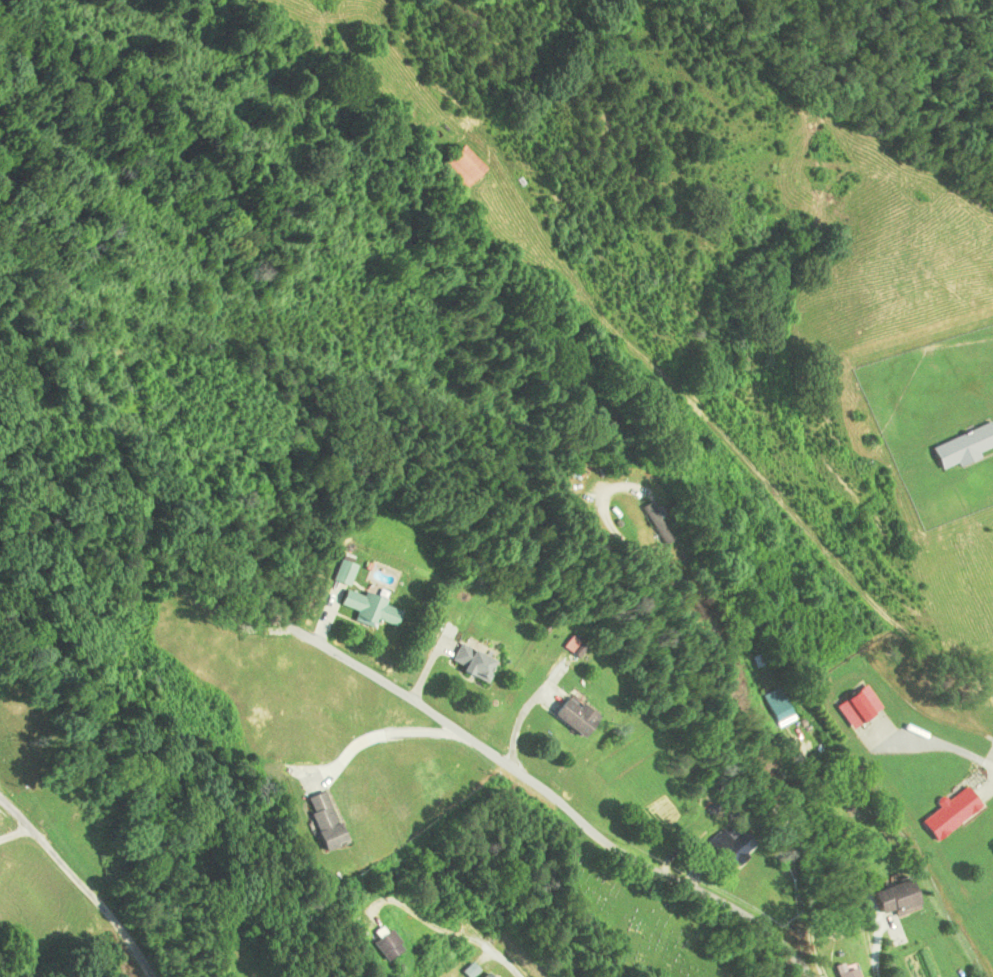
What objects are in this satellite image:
building: (458, 165)
building: (962, 446)
building: (370, 608)
building: (472, 662)
road: (725, 703)
building: (856, 705)
building: (569, 716)
road: (566, 802)
building: (949, 813)
building: (321, 820)
road: (83, 886)
building: (894, 905)
road: (452, 929)
building: (378, 944)
road: (868, 948)
building: (484, 975)

